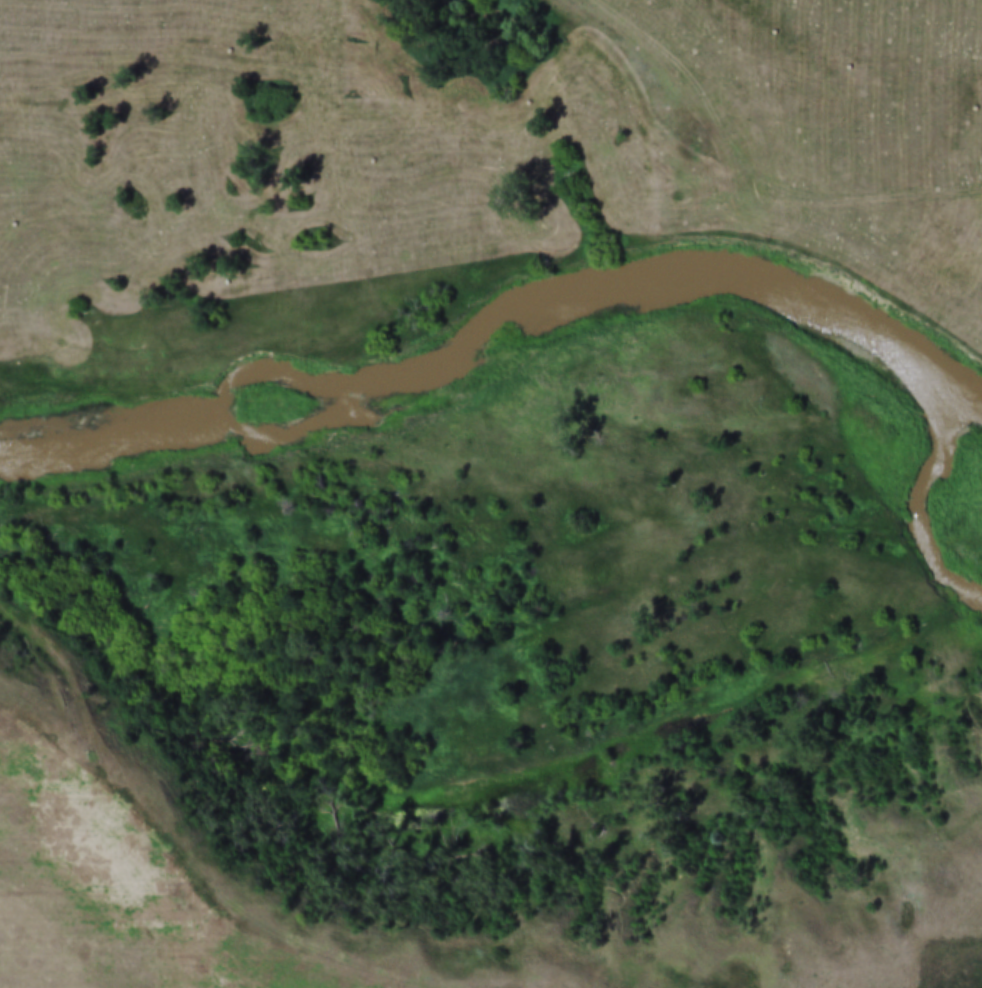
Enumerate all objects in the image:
river: (579, 285)

